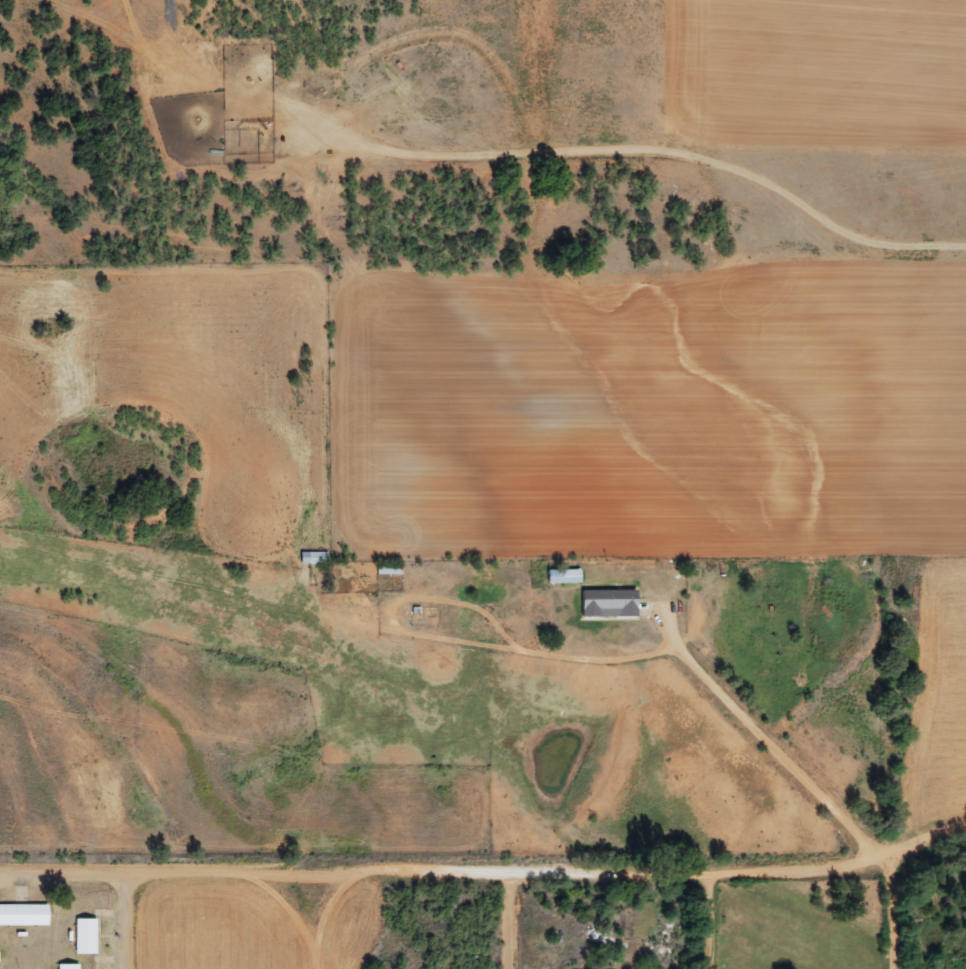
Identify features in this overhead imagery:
building: (313, 558)
building: (389, 568)
building: (563, 576)
building: (608, 603)
road: (761, 742)
road: (486, 870)
road: (898, 911)
building: (23, 915)
road: (320, 919)
road: (514, 919)
road: (128, 921)
road: (705, 923)
building: (85, 936)
building: (68, 966)

